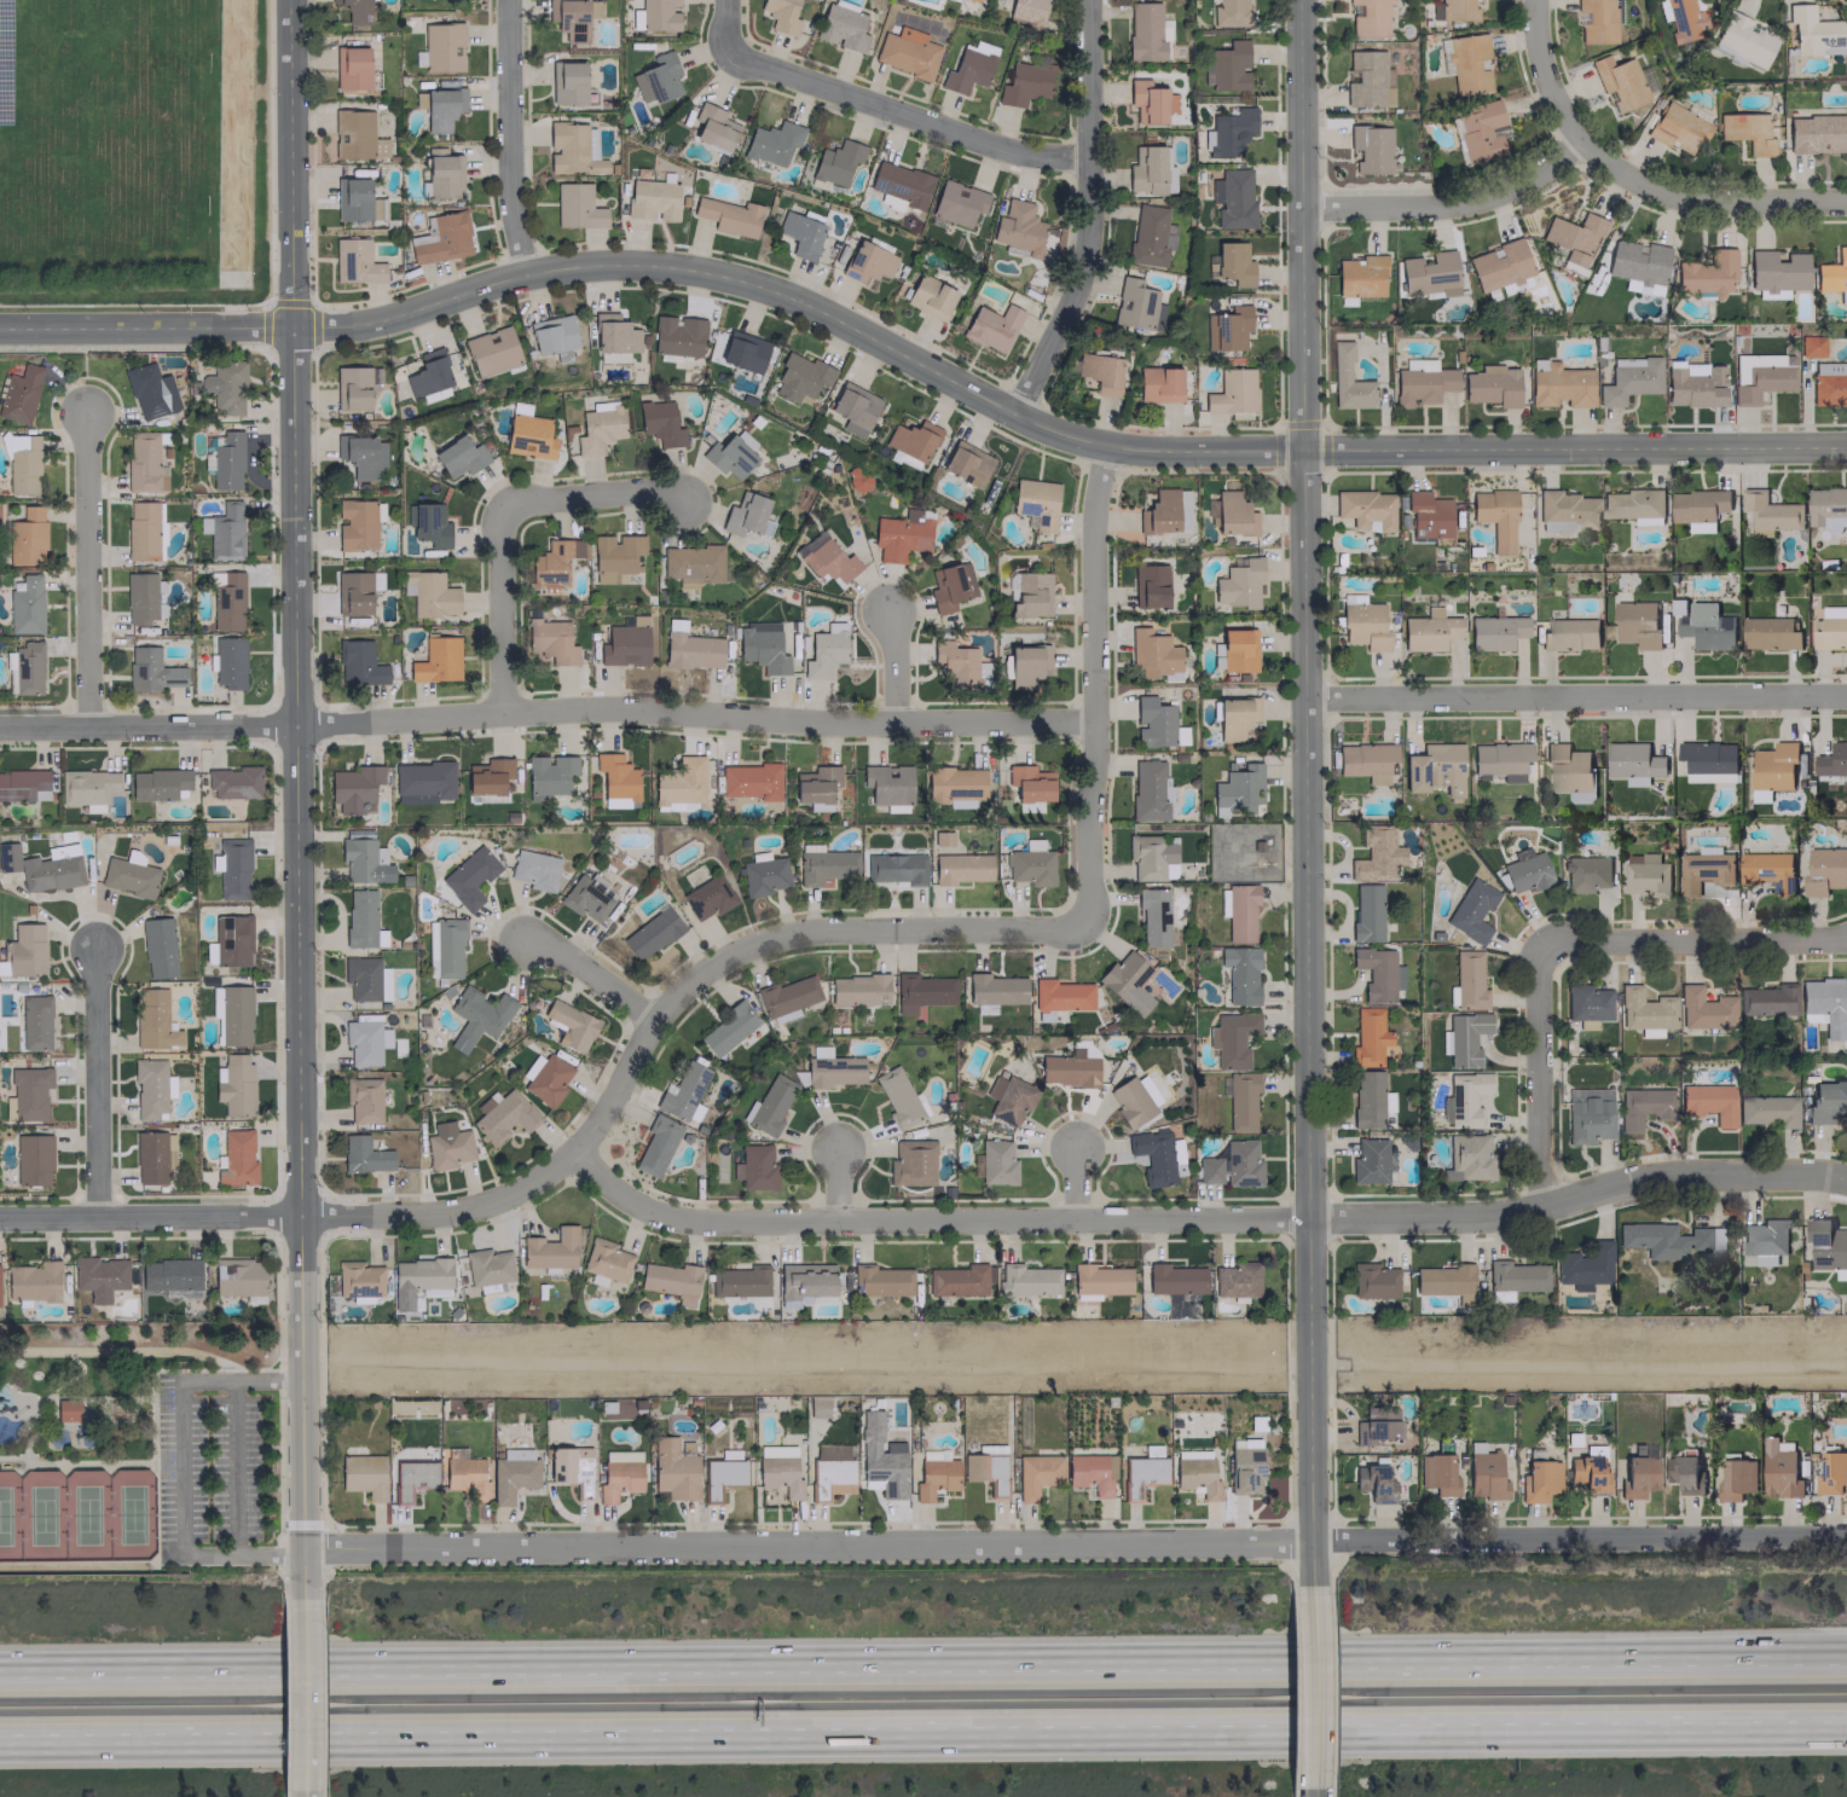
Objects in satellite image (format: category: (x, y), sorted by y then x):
building: (1457, 10)
building: (355, 11)
building: (1229, 13)
building: (658, 15)
building: (780, 16)
building: (568, 18)
building: (1368, 18)
building: (1680, 18)
building: (1596, 21)
road: (722, 25)
building: (841, 28)
building: (1146, 31)
building: (1812, 31)
building: (1743, 41)
building: (441, 46)
building: (907, 52)
building: (1466, 63)
building: (1228, 65)
building: (351, 68)
building: (968, 68)
building: (661, 76)
road: (1544, 77)
building: (1367, 80)
building: (1619, 81)
building: (567, 82)
building: (1024, 82)
building: (639, 85)
building: (1146, 100)
building: (441, 109)
road: (903, 115)
building: (713, 127)
building: (1677, 127)
building: (1229, 131)
building: (1478, 131)
building: (1747, 132)
building: (1814, 134)
building: (357, 135)
road: (506, 137)
building: (771, 141)
building: (572, 149)
building: (1370, 149)
road: (1574, 152)
building: (835, 162)
building: (1146, 169)
building: (442, 173)
building: (899, 182)
building: (1232, 198)
building: (652, 199)
building: (355, 201)
building: (956, 202)
building: (577, 207)
building: (728, 215)
road: (1087, 215)
building: (1018, 227)
building: (800, 233)
building: (1150, 234)
building: (1573, 236)
building: (444, 238)
building: (354, 261)
building: (867, 262)
building: (1232, 263)
building: (1637, 265)
building: (1498, 266)
building: (1707, 272)
building: (1832, 272)
building: (1429, 273)
building: (1776, 273)
building: (1359, 276)
building: (930, 296)
building: (1136, 305)
building: (991, 326)
building: (1226, 327)
building: (614, 334)
building: (677, 335)
building: (552, 336)
building: (1811, 346)
building: (491, 350)
building: (743, 352)
road: (917, 365)
building: (428, 373)
building: (1760, 375)
building: (800, 378)
building: (1348, 381)
building: (1422, 382)
building: (1629, 382)
building: (1695, 383)
building: (1829, 383)
building: (1158, 384)
building: (1492, 386)
building: (1561, 386)
building: (220, 387)
building: (352, 388)
building: (1231, 392)
building: (150, 393)
building: (19, 394)
building: (853, 407)
building: (659, 423)
building: (598, 428)
building: (528, 436)
building: (911, 439)
building: (357, 454)
building: (459, 457)
building: (728, 457)
building: (226, 460)
building: (966, 463)
building: (22, 464)
building: (143, 464)
road: (594, 499)
building: (1036, 502)
building: (1633, 505)
building: (1826, 506)
building: (1697, 508)
building: (1365, 509)
building: (1565, 510)
building: (1159, 512)
building: (1770, 512)
building: (1233, 514)
building: (746, 515)
building: (1428, 516)
building: (1495, 517)
building: (357, 523)
building: (428, 523)
building: (144, 531)
building: (222, 531)
building: (901, 534)
building: (27, 537)
building: (809, 543)
building: (615, 557)
building: (554, 561)
building: (828, 562)
building: (691, 563)
road: (86, 569)
building: (1238, 584)
building: (1148, 585)
building: (949, 586)
building: (1011, 586)
building: (355, 591)
building: (429, 593)
building: (1030, 595)
building: (141, 596)
building: (227, 602)
building: (25, 605)
road: (502, 605)
building: (1635, 624)
building: (1363, 625)
building: (1706, 626)
building: (1830, 627)
building: (1429, 630)
building: (1495, 631)
building: (1768, 632)
building: (1569, 634)
building: (550, 640)
building: (624, 645)
building: (762, 647)
building: (1238, 649)
building: (691, 650)
building: (824, 650)
building: (1152, 655)
building: (436, 660)
building: (228, 662)
building: (358, 663)
building: (960, 665)
building: (1025, 665)
road: (897, 666)
building: (27, 668)
building: (152, 669)
road: (1094, 686)
road: (1575, 697)
road: (546, 711)
building: (1234, 717)
building: (1152, 721)
building: (1179, 735)
building: (1707, 757)
building: (1832, 759)
building: (1365, 760)
building: (1499, 760)
building: (1633, 761)
building: (1567, 767)
building: (1435, 769)
building: (1772, 769)
building: (548, 775)
building: (487, 776)
building: (1709, 777)
building: (423, 778)
building: (615, 779)
building: (681, 781)
building: (748, 781)
building: (233, 782)
building: (23, 784)
building: (158, 784)
building: (87, 786)
building: (816, 786)
building: (887, 786)
building: (954, 786)
building: (1029, 786)
building: (354, 788)
building: (1237, 789)
building: (1150, 790)
road: (1305, 792)
road: (294, 799)
building: (1376, 854)
building: (1151, 857)
building: (363, 860)
building: (824, 865)
building: (1029, 866)
building: (231, 868)
building: (896, 868)
building: (960, 868)
building: (40, 869)
building: (533, 869)
building: (1766, 869)
building: (1702, 870)
building: (1824, 870)
building: (1527, 873)
building: (1586, 873)
building: (763, 875)
building: (1645, 875)
building: (128, 876)
building: (469, 877)
building: (587, 897)
building: (706, 897)
building: (1222, 902)
building: (1471, 910)
building: (1239, 911)
building: (1366, 914)
building: (1152, 916)
building: (359, 917)
building: (650, 933)
road: (780, 934)
road: (1695, 937)
building: (231, 940)
building: (444, 946)
building: (157, 947)
building: (24, 950)
building: (1376, 973)
building: (1239, 974)
road: (591, 975)
building: (364, 978)
building: (1469, 980)
building: (1125, 981)
building: (858, 989)
building: (994, 989)
building: (921, 991)
building: (787, 995)
building: (1060, 995)
building: (1766, 999)
building: (1587, 1004)
building: (1822, 1004)
building: (984, 1008)
building: (1703, 1008)
building: (1644, 1010)
building: (235, 1015)
building: (783, 1015)
building: (476, 1016)
building: (154, 1020)
building: (34, 1022)
building: (571, 1025)
building: (726, 1028)
building: (1367, 1037)
building: (1231, 1038)
building: (1465, 1038)
building: (364, 1042)
building: (820, 1050)
road: (1542, 1068)
building: (833, 1069)
building: (545, 1078)
road: (97, 1083)
building: (235, 1085)
building: (150, 1088)
building: (29, 1092)
building: (683, 1092)
building: (897, 1096)
building: (1009, 1097)
building: (363, 1099)
building: (1134, 1099)
building: (1368, 1099)
building: (1464, 1099)
building: (1240, 1100)
building: (486, 1101)
building: (1826, 1101)
building: (1708, 1102)
building: (768, 1105)
building: (1643, 1106)
building: (1767, 1109)
building: (1587, 1114)
building: (504, 1115)
building: (656, 1144)
building: (446, 1146)
building: (364, 1155)
building: (236, 1157)
building: (1157, 1157)
building: (154, 1158)
building: (1467, 1158)
building: (31, 1159)
building: (1368, 1160)
building: (996, 1161)
building: (911, 1163)
building: (754, 1167)
road: (840, 1183)
road: (1078, 1184)
road: (295, 1216)
road: (1205, 1221)
building: (1765, 1236)
building: (1666, 1239)
building: (1828, 1247)
building: (549, 1248)
building: (1765, 1258)
building: (604, 1262)
building: (1583, 1265)
building: (487, 1266)
building: (98, 1276)
building: (237, 1276)
building: (1515, 1276)
building: (1174, 1279)
building: (1235, 1279)
building: (358, 1280)
building: (880, 1280)
building: (960, 1280)
building: (1027, 1280)
building: (1098, 1280)
building: (1373, 1280)
building: (33, 1281)
building: (671, 1281)
building: (804, 1281)
building: (1443, 1281)
building: (418, 1282)
building: (741, 1282)
road: (122, 1352)
road: (239, 1379)
road: (110, 1398)
building: (68, 1410)
building: (127, 1411)
road: (52, 1413)
building: (1376, 1425)
park: (138, 1447)
building: (880, 1457)
road: (102, 1463)
road: (181, 1466)
road: (233, 1466)
building: (1244, 1466)
parking lot: (216, 1467)
building: (571, 1468)
building: (673, 1470)
building: (778, 1470)
building: (832, 1470)
building: (1778, 1470)
building: (985, 1471)
building: (1831, 1471)
building: (1090, 1472)
building: (1587, 1472)
building: (462, 1473)
building: (1141, 1473)
building: (1195, 1473)
building: (1437, 1473)
building: (1683, 1473)
building: (363, 1474)
building: (513, 1474)
building: (619, 1474)
building: (1036, 1474)
building: (1484, 1474)
building: (720, 1476)
building: (1638, 1476)
building: (411, 1478)
building: (934, 1478)
building: (1736, 1478)
building: (1539, 1479)
building: (1372, 1483)
park: (75, 1513)
road: (1310, 1519)
road: (682, 1523)
road: (1073, 1543)
road: (242, 1554)
road: (954, 1660)
road: (30, 1666)
road: (30, 1670)
road: (1312, 1686)
road: (1291, 1687)
road: (1328, 1687)
road: (302, 1694)
road: (924, 1735)
road: (1292, 1792)
road: (1313, 1792)
road: (1330, 1792)
road: (303, 1793)

